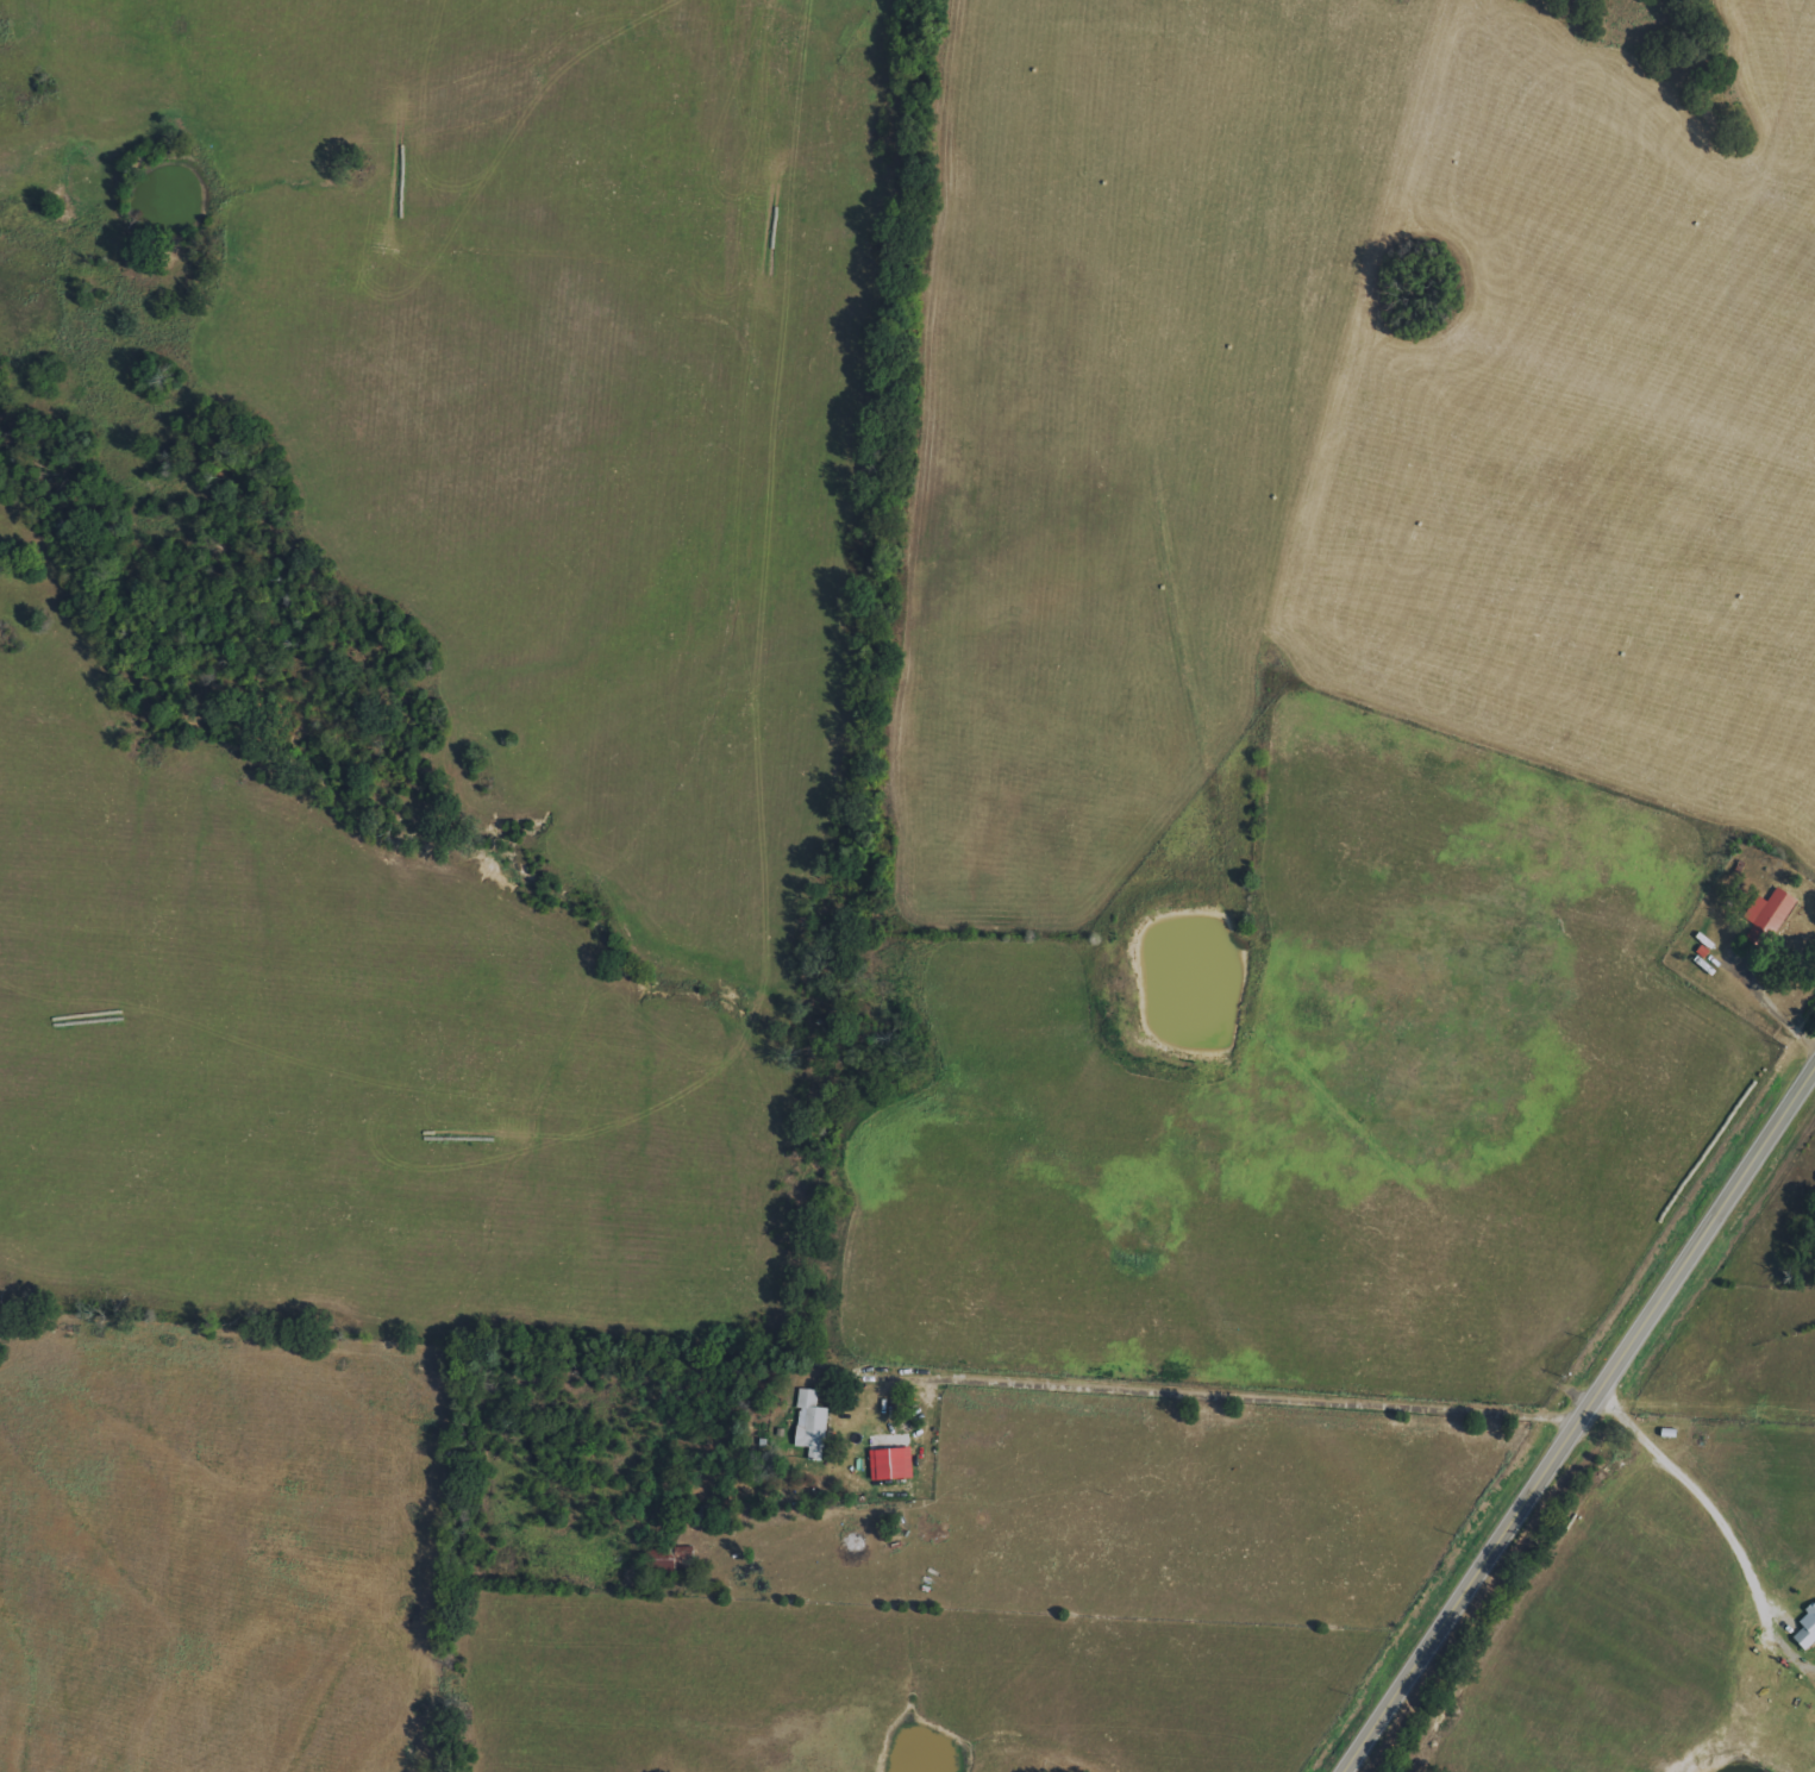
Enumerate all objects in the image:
building: (1771, 909)
road: (1775, 1009)
road: (1241, 1396)
road: (1577, 1417)
building: (812, 1425)
building: (891, 1463)
road: (1702, 1499)
building: (1807, 1629)

